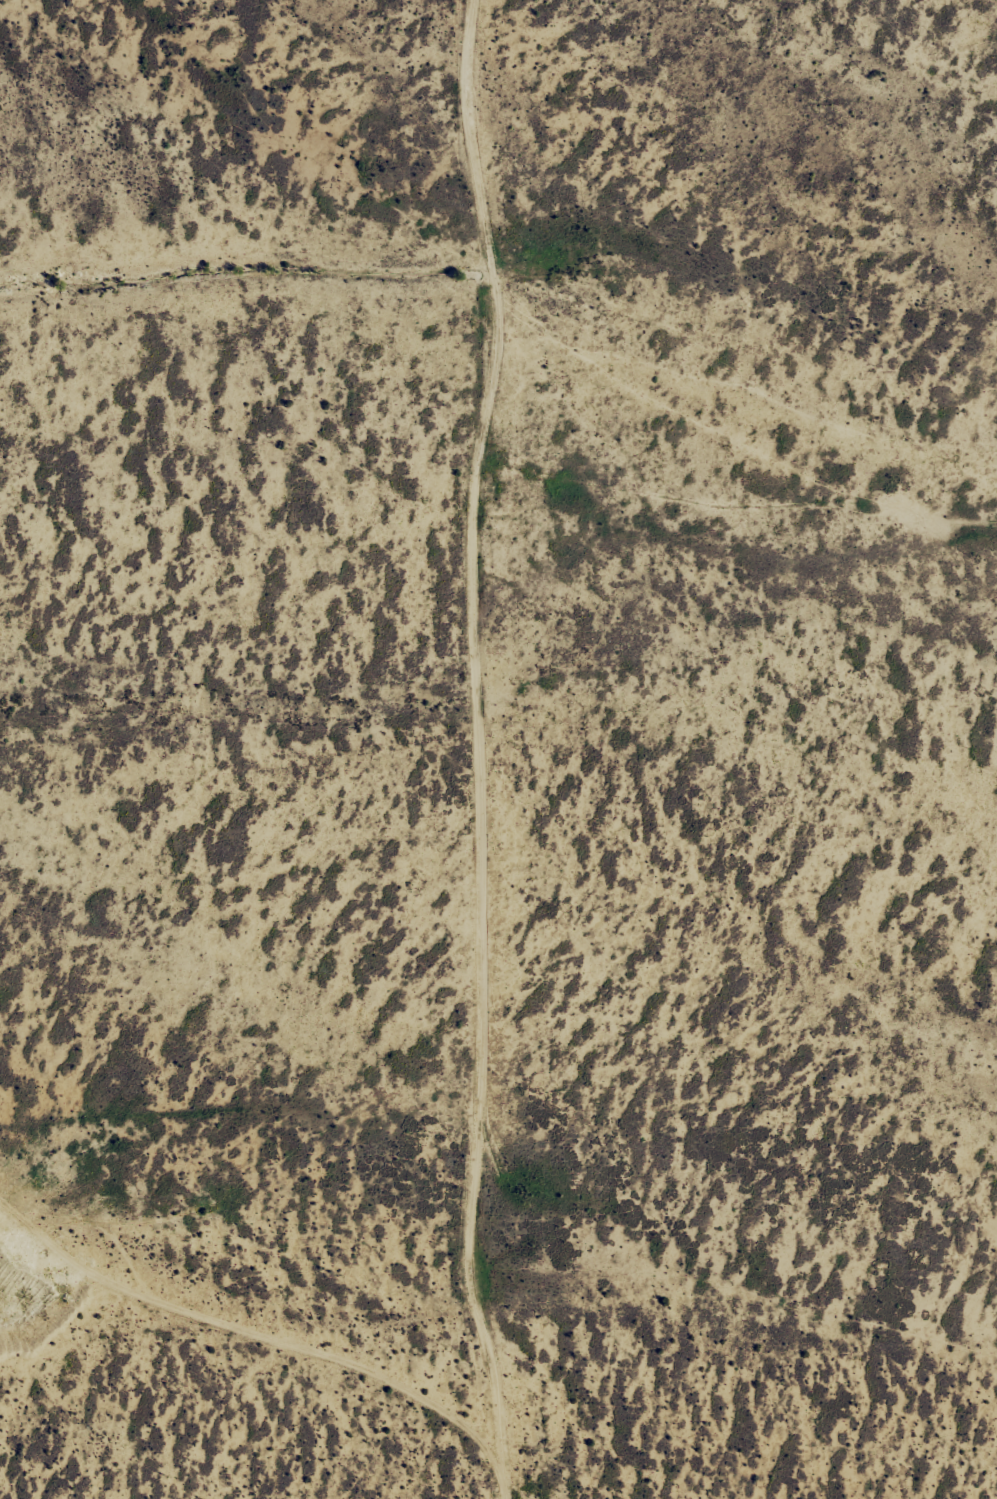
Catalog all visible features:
road: (478, 751)
road: (240, 1357)

